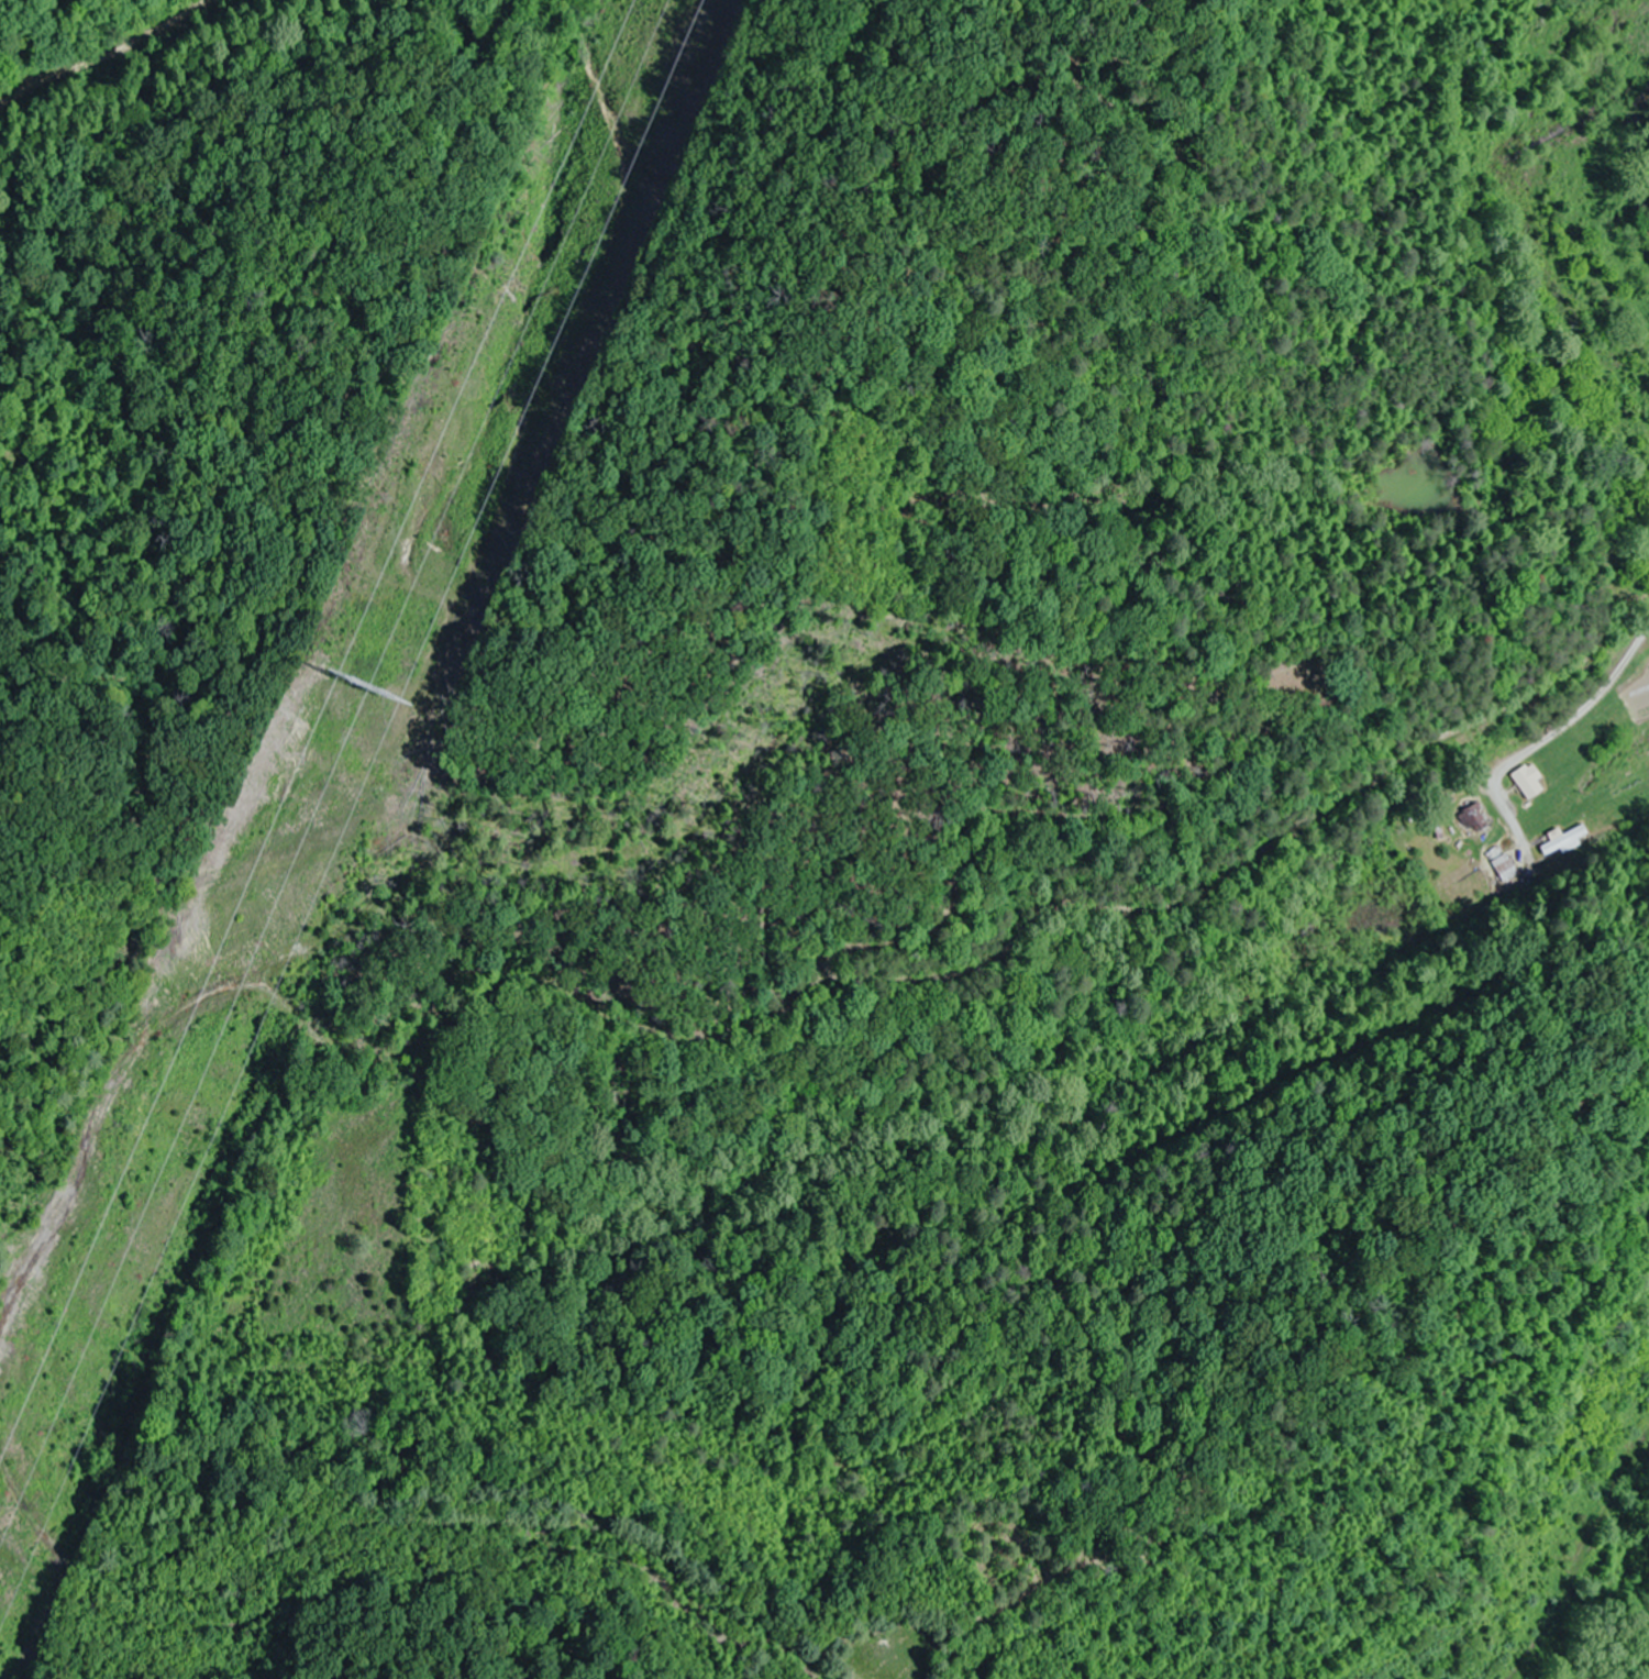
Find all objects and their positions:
building: (1528, 780)
building: (1475, 818)
building: (1562, 840)
building: (1502, 863)

